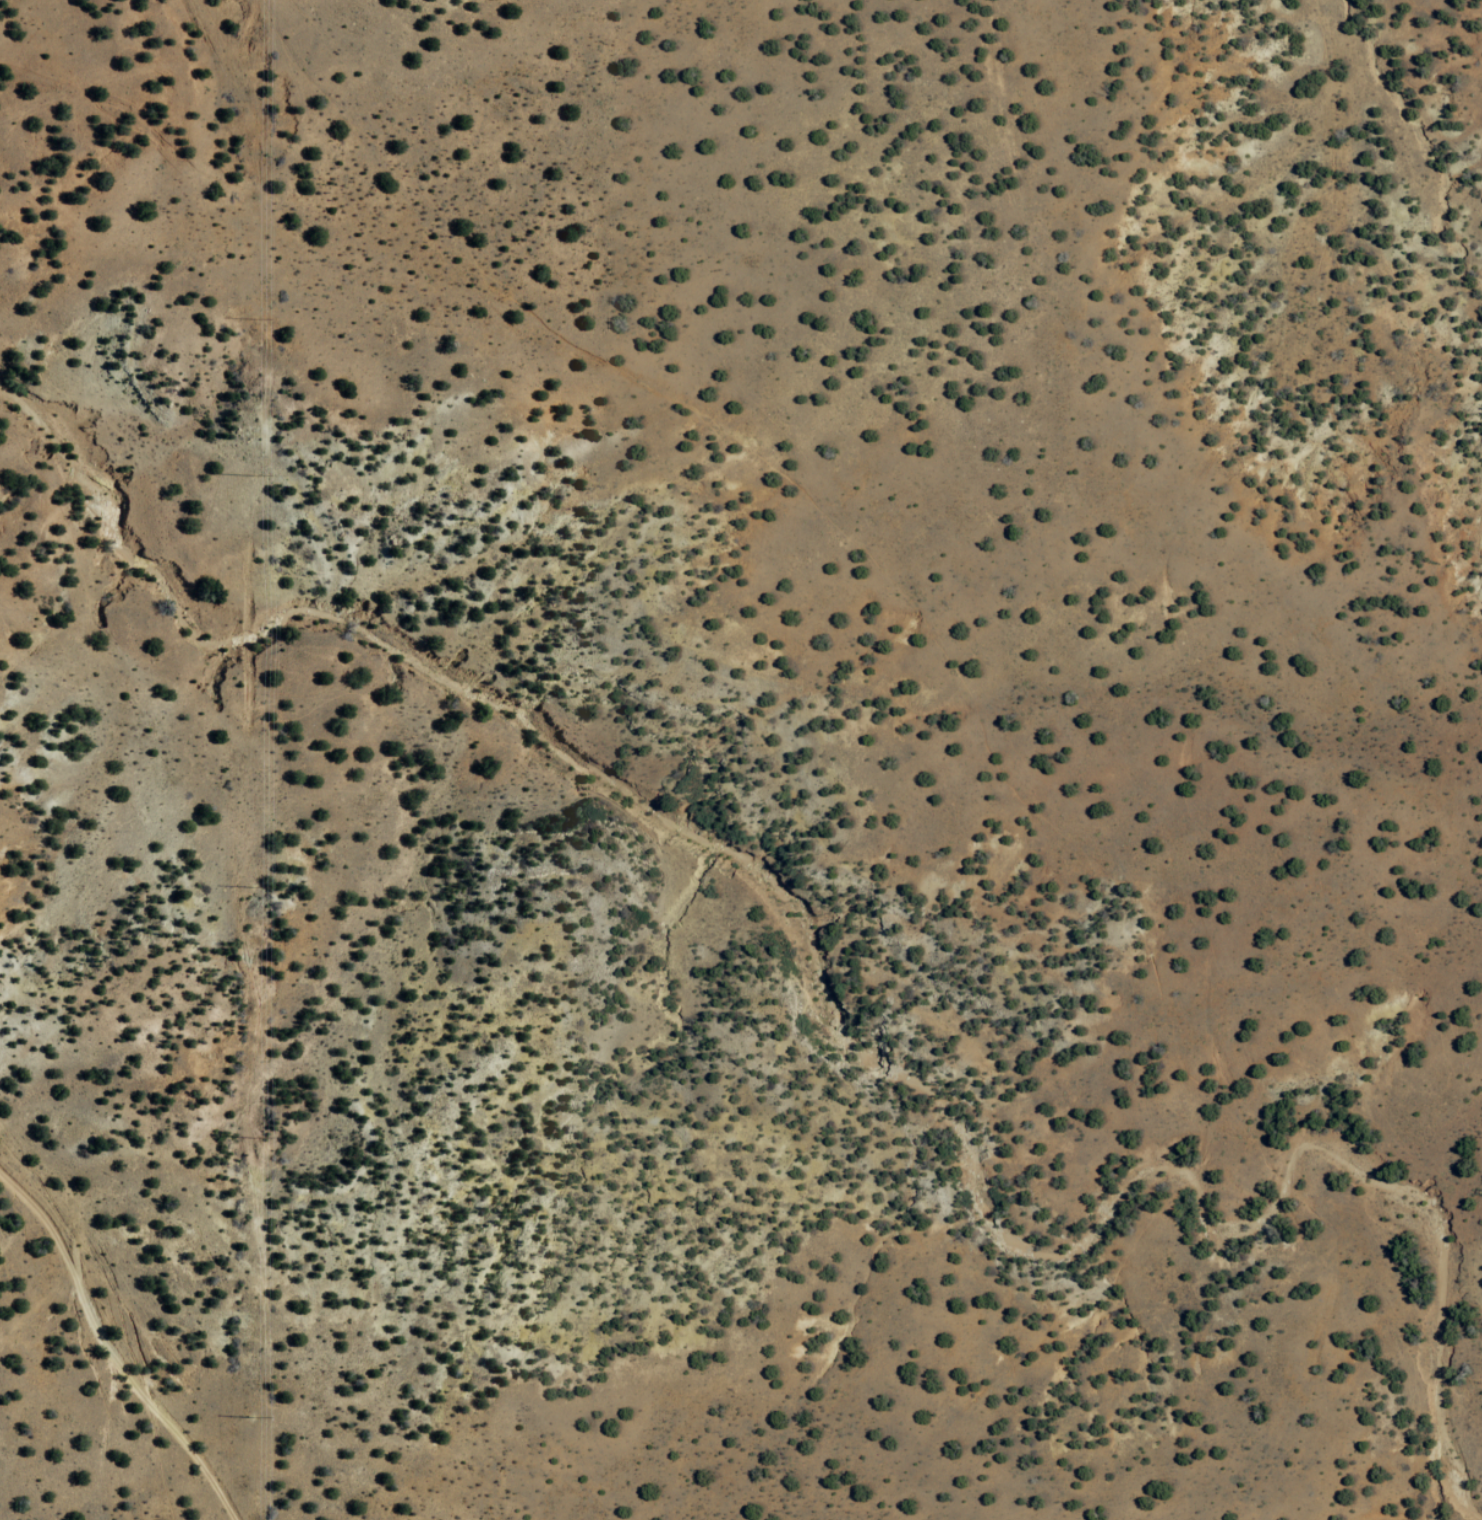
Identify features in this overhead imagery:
road: (121, 1328)

